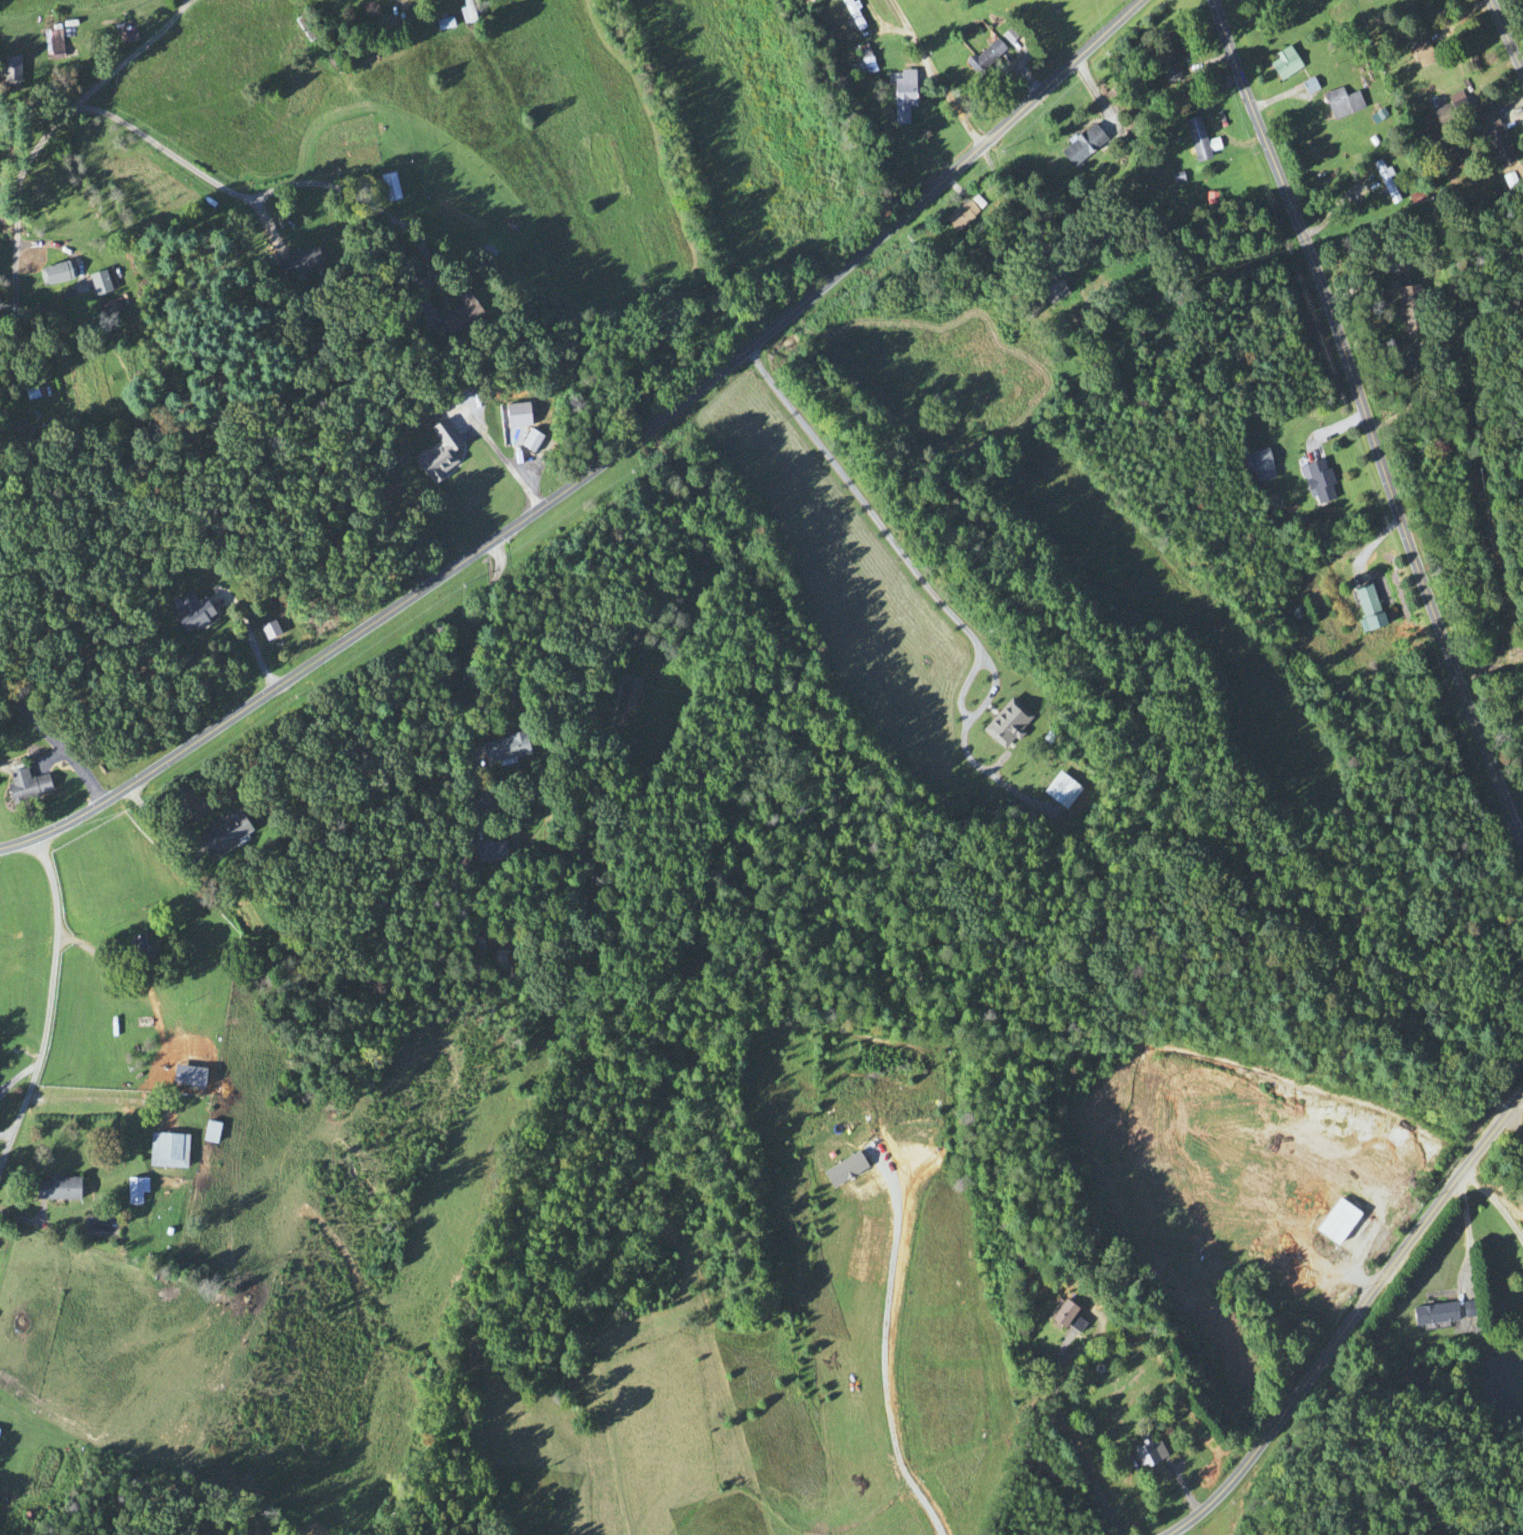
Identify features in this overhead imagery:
building: (1419, 0)
building: (466, 13)
building: (851, 14)
building: (380, 22)
building: (443, 24)
road: (1506, 35)
building: (127, 37)
building: (862, 39)
building: (52, 43)
building: (1422, 54)
building: (984, 57)
building: (1165, 64)
building: (1283, 64)
building: (860, 68)
building: (9, 72)
road: (932, 74)
road: (61, 87)
building: (902, 97)
building: (1341, 104)
building: (1450, 111)
building: (1494, 138)
building: (1198, 141)
building: (1081, 146)
building: (1385, 181)
building: (387, 186)
road: (272, 191)
building: (960, 216)
building: (296, 263)
building: (52, 273)
building: (100, 281)
building: (1050, 285)
building: (1408, 309)
building: (454, 321)
road: (9, 332)
building: (1101, 363)
building: (28, 391)
road: (1364, 423)
building: (528, 440)
building: (437, 451)
building: (1260, 460)
road: (598, 462)
building: (1319, 481)
building: (1264, 487)
road: (906, 560)
building: (1367, 608)
building: (190, 615)
road: (472, 644)
road: (50, 746)
building: (502, 747)
building: (24, 785)
building: (222, 833)
building: (488, 850)
building: (479, 945)
building: (141, 948)
building: (498, 959)
road: (46, 1001)
road: (93, 1088)
road: (1511, 1126)
building: (208, 1132)
building: (166, 1151)
building: (53, 1188)
building: (134, 1191)
road: (1494, 1201)
building: (1340, 1226)
building: (1470, 1313)
building: (1433, 1314)
building: (1060, 1315)
road: (1353, 1317)
road: (879, 1358)
road: (1063, 1437)
building: (1147, 1453)

